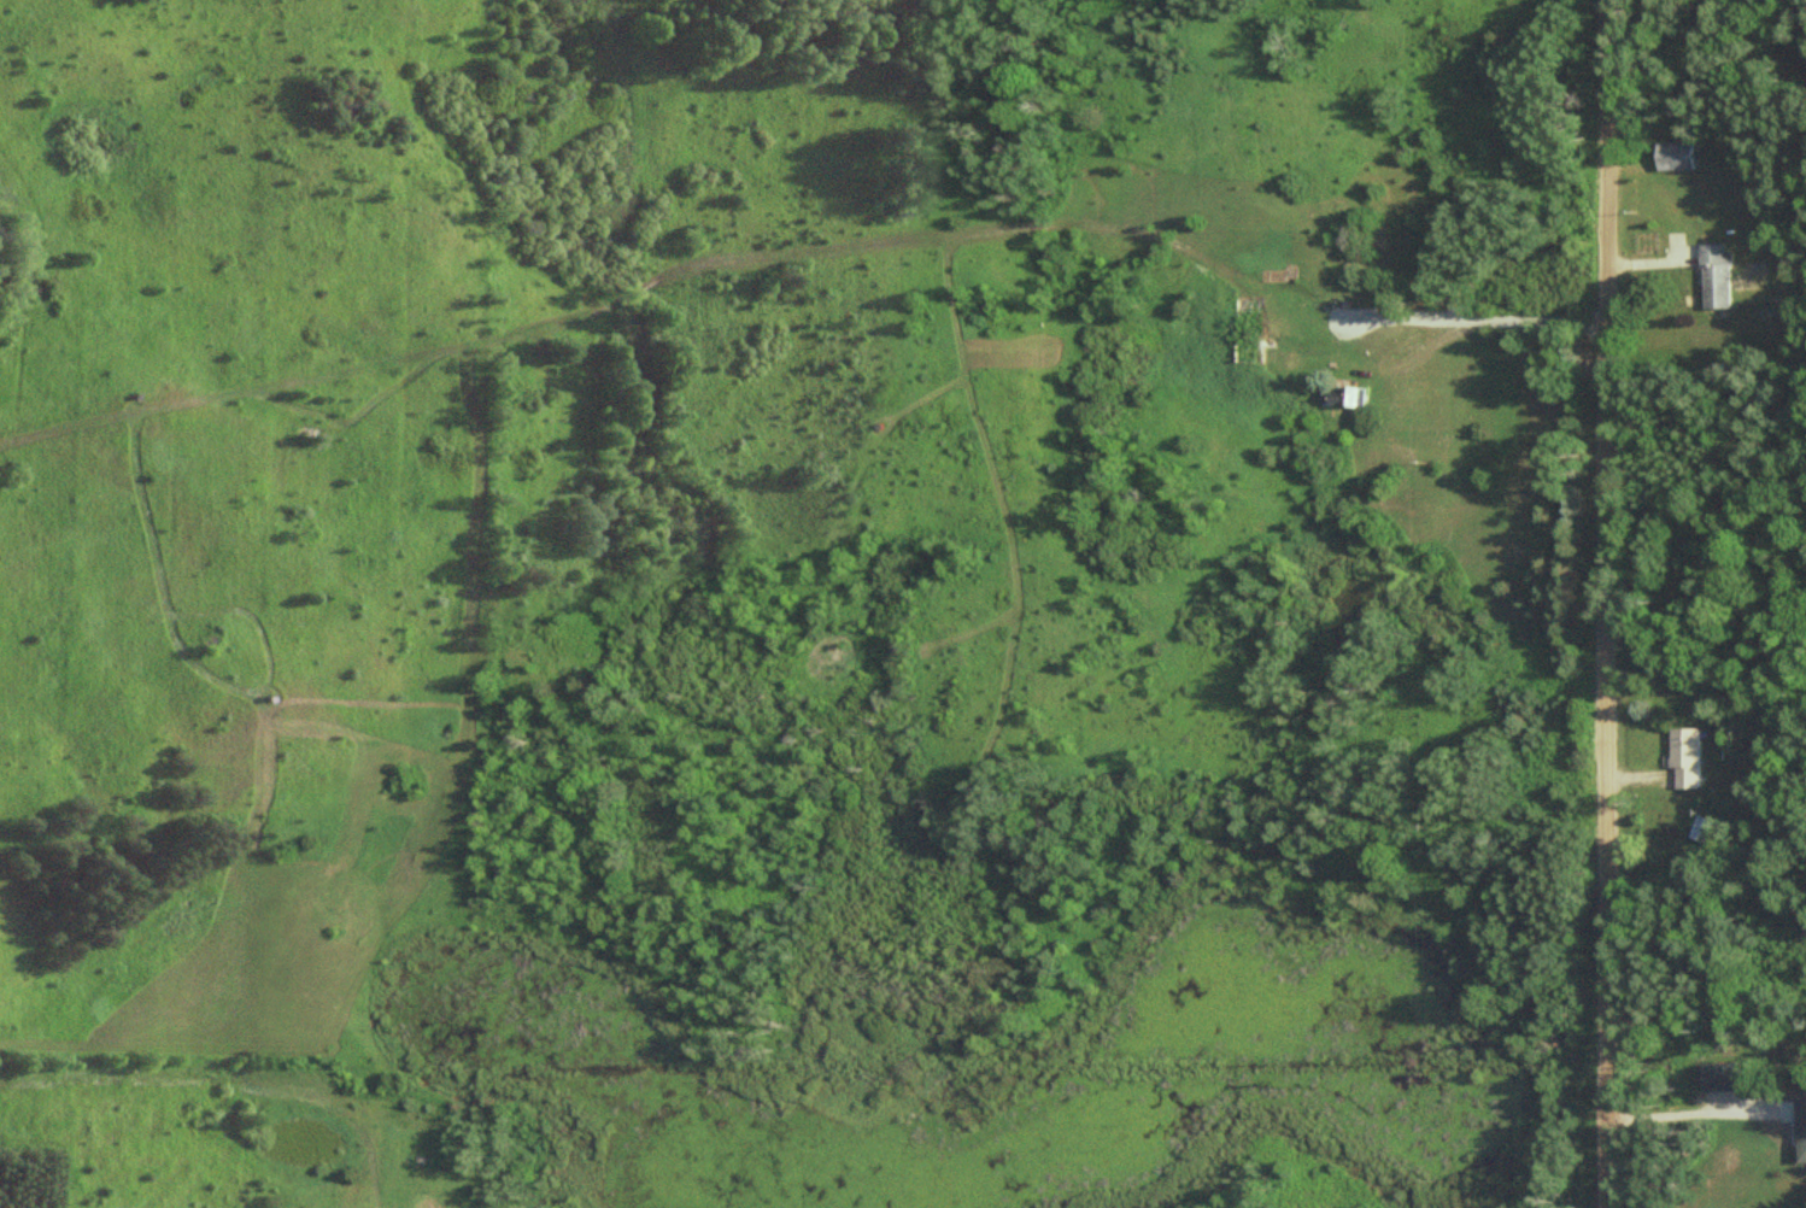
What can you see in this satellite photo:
building: (1679, 156)
building: (1753, 275)
building: (1722, 276)
building: (1348, 394)
road: (1606, 604)
building: (1694, 756)
building: (1706, 828)
road: (1687, 1119)
building: (1805, 1130)

